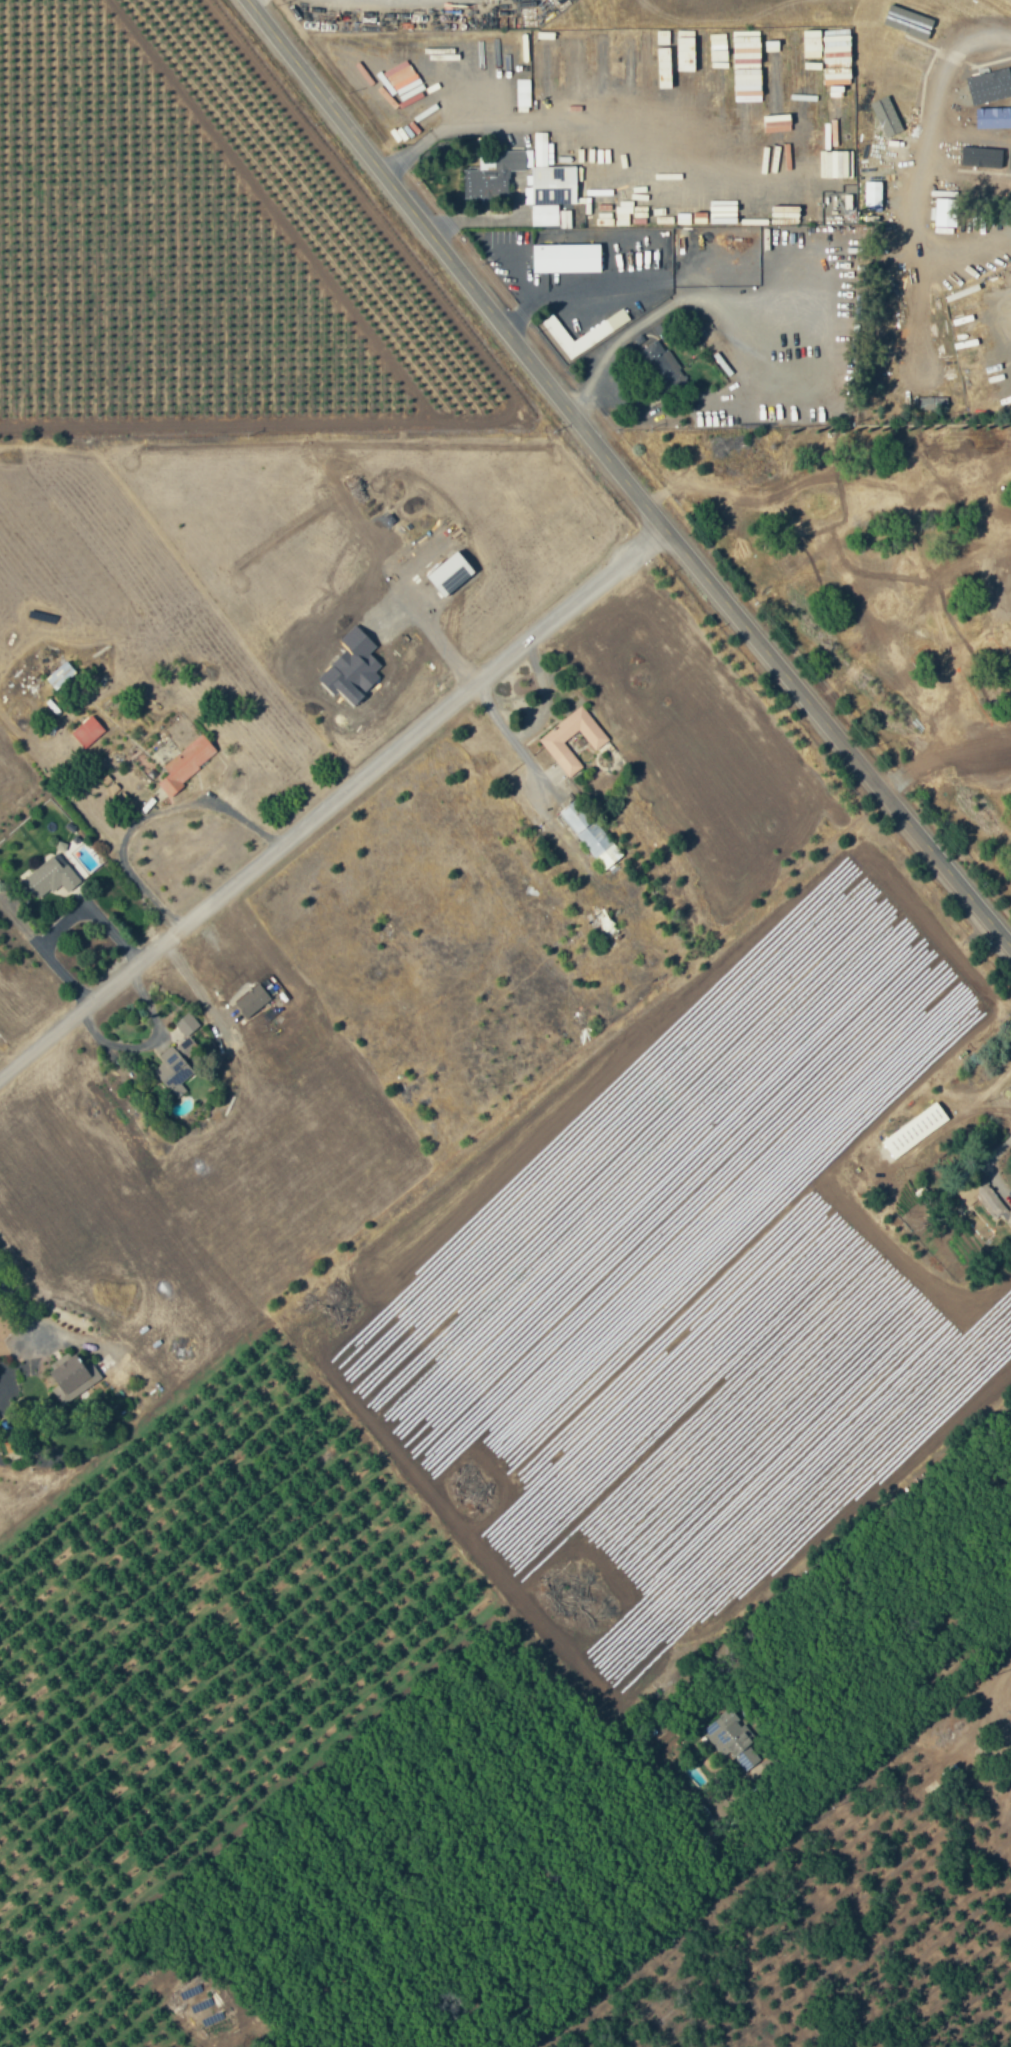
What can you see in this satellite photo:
building: (835, 50)
building: (912, 58)
building: (990, 85)
building: (523, 92)
building: (1006, 133)
road: (449, 134)
road: (924, 151)
building: (496, 175)
building: (985, 175)
building: (550, 187)
building: (873, 193)
building: (945, 212)
road: (492, 220)
building: (566, 258)
road: (574, 292)
building: (583, 332)
building: (661, 359)
building: (932, 402)
road: (623, 477)
building: (60, 675)
building: (87, 731)
building: (552, 741)
building: (186, 763)
road: (332, 800)
road: (148, 816)
building: (590, 834)
building: (50, 877)
road: (93, 914)
road: (44, 949)
building: (186, 1024)
building: (189, 1044)
building: (173, 1071)
building: (984, 1198)
road: (23, 1311)
building: (71, 1377)
road: (907, 1590)
building: (731, 1739)

